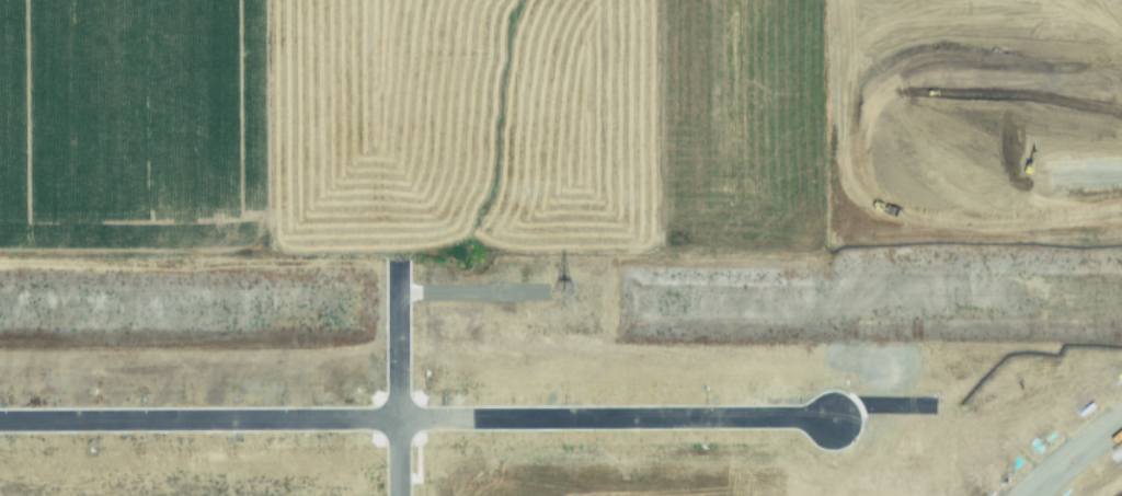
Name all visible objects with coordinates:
road: (925, 96)
crop: (565, 130)
road: (1043, 171)
power tower: (560, 290)
road: (396, 374)
road: (416, 417)
road: (1071, 451)

